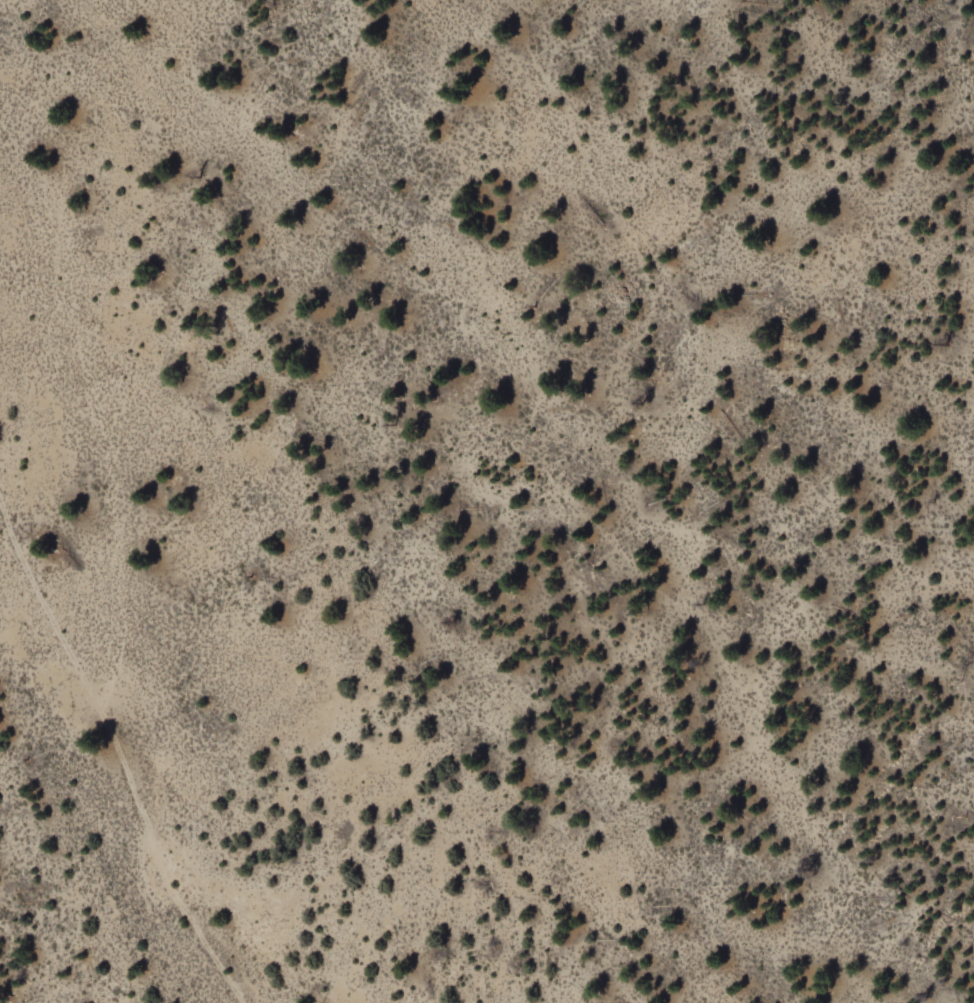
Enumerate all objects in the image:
road: (113, 764)

